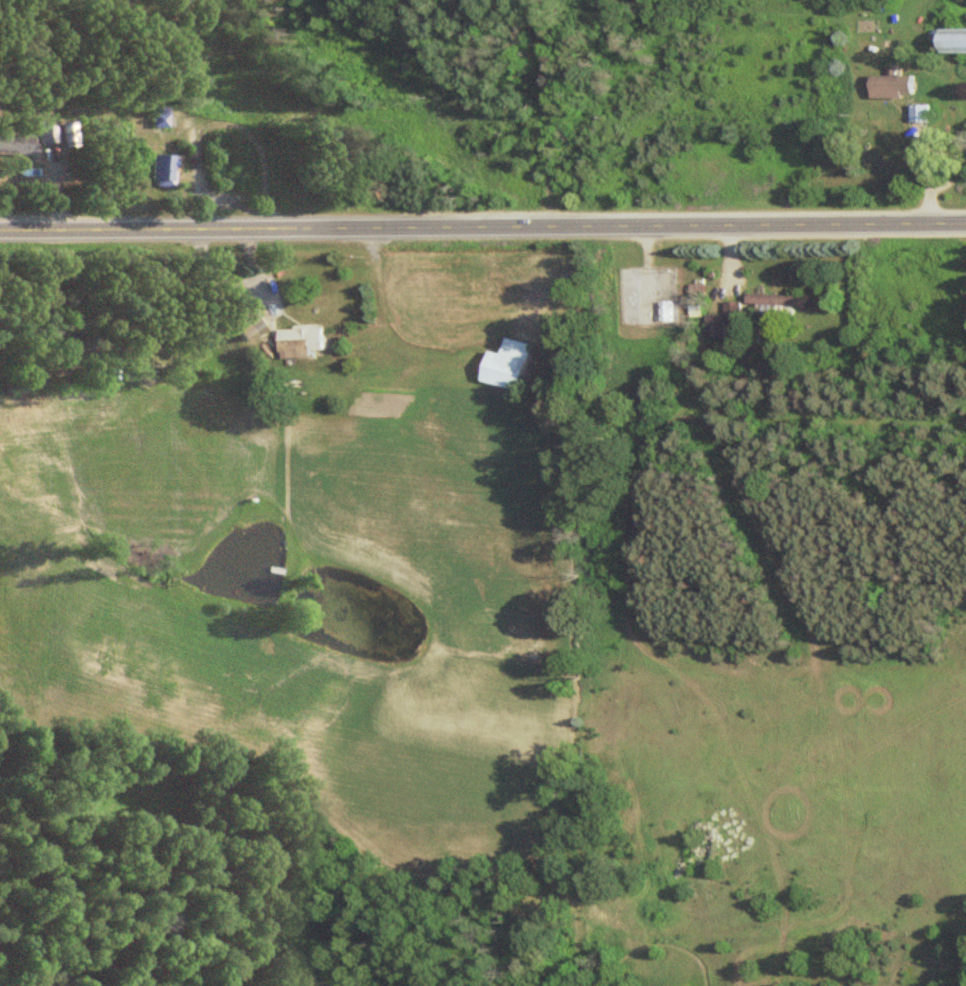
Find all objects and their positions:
building: (956, 41)
building: (892, 86)
building: (920, 114)
road: (541, 115)
building: (161, 118)
building: (47, 136)
building: (15, 145)
building: (163, 171)
road: (483, 231)
building: (773, 300)
building: (666, 312)
building: (251, 320)
building: (725, 321)
building: (307, 343)
building: (514, 366)

